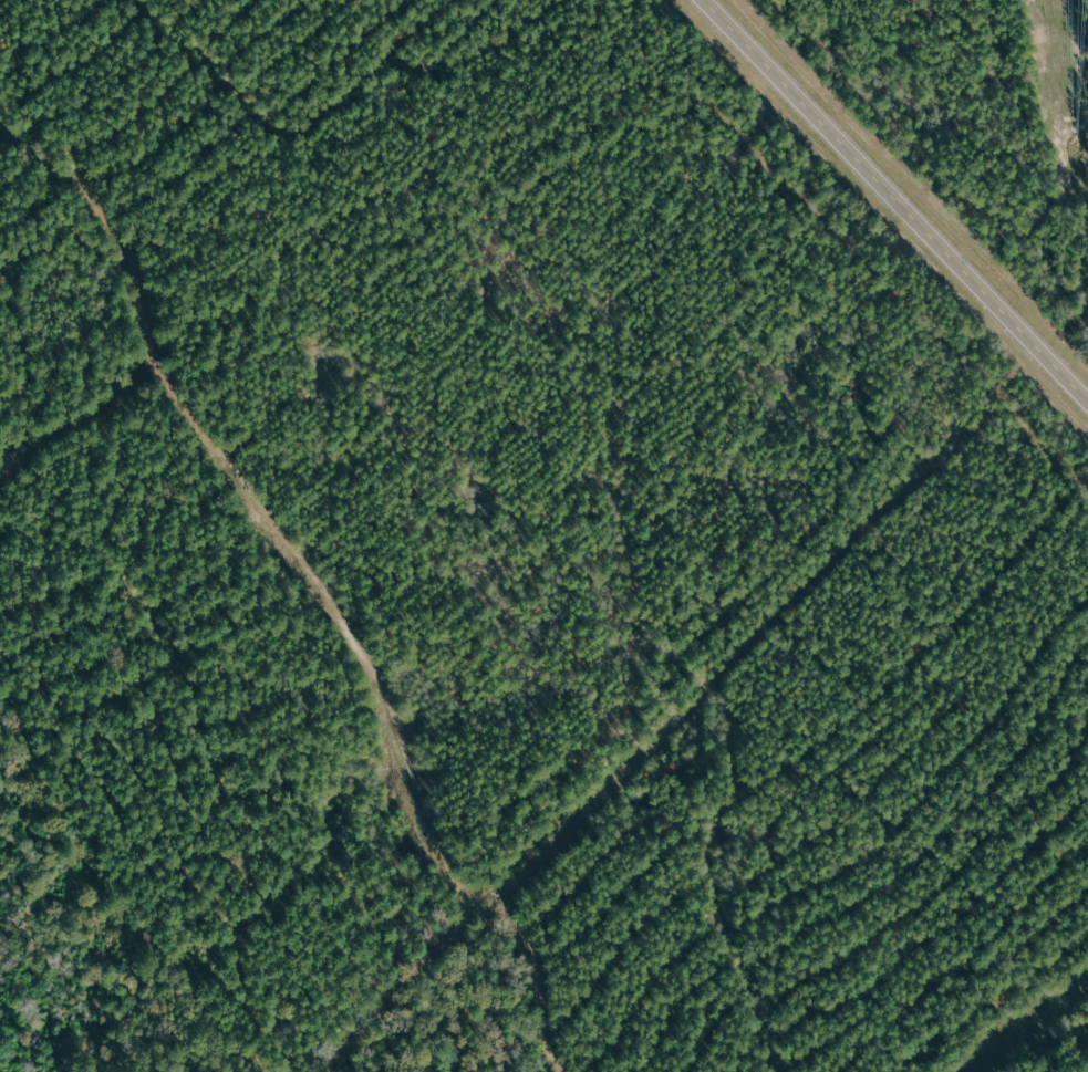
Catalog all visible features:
road: (895, 200)

